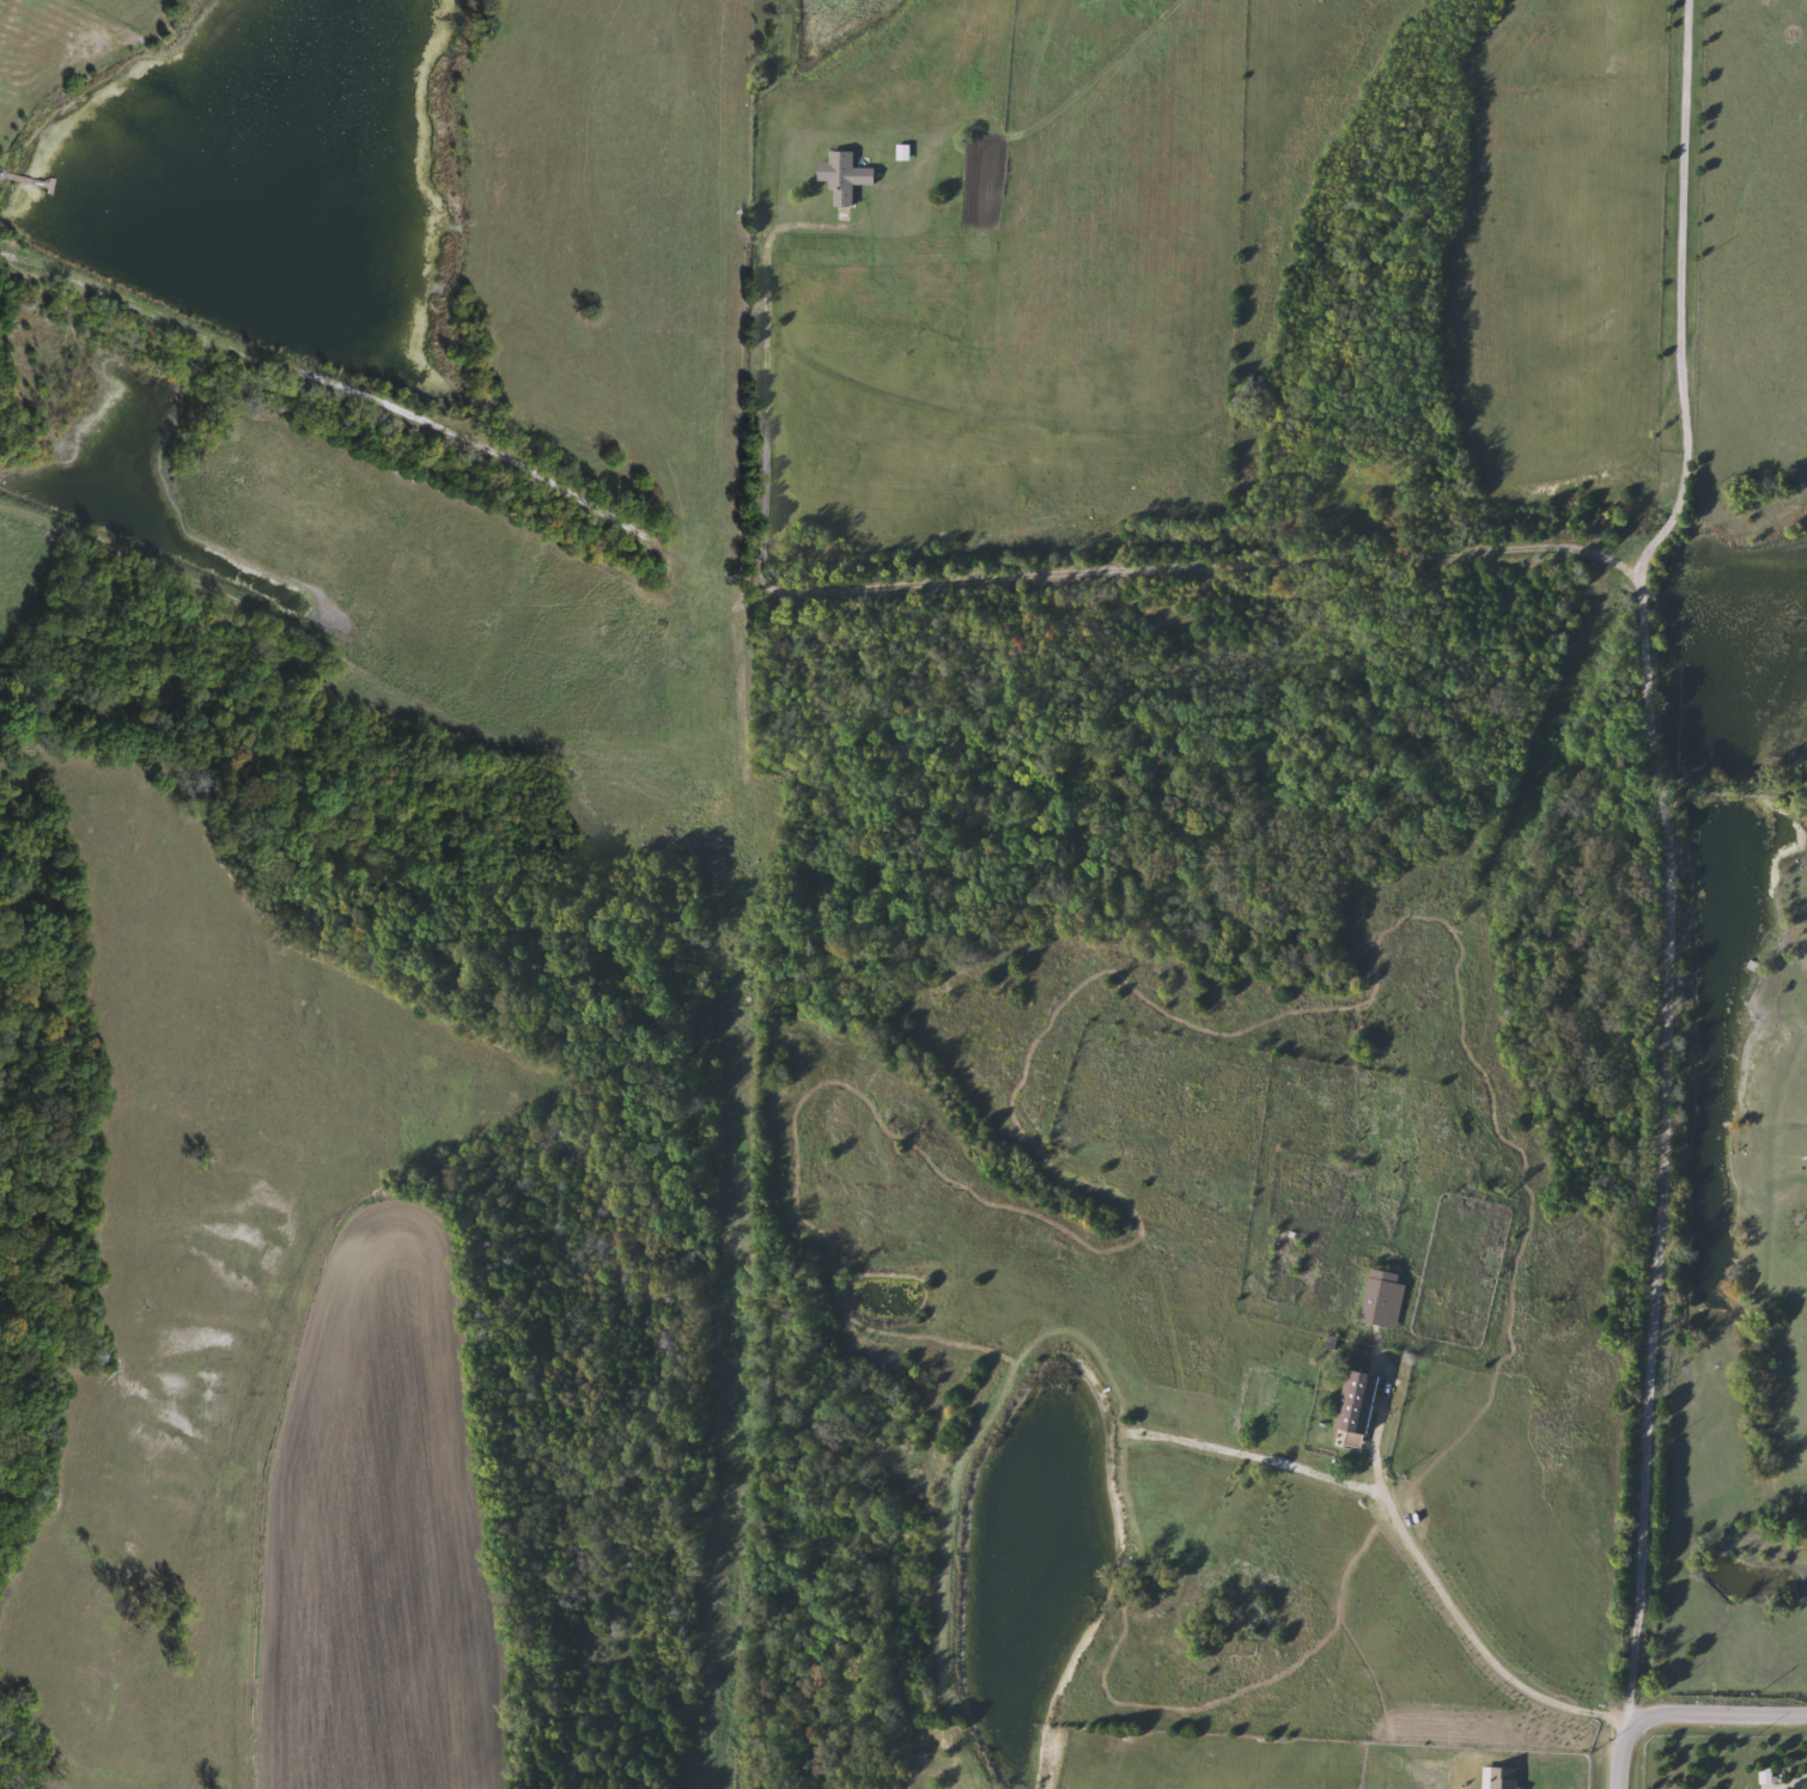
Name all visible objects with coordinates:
building: (846, 176)
road: (1683, 297)
road: (1592, 558)
building: (1385, 1300)
building: (1359, 1406)
road: (1468, 1631)
road: (1683, 1717)
road: (1801, 1783)

